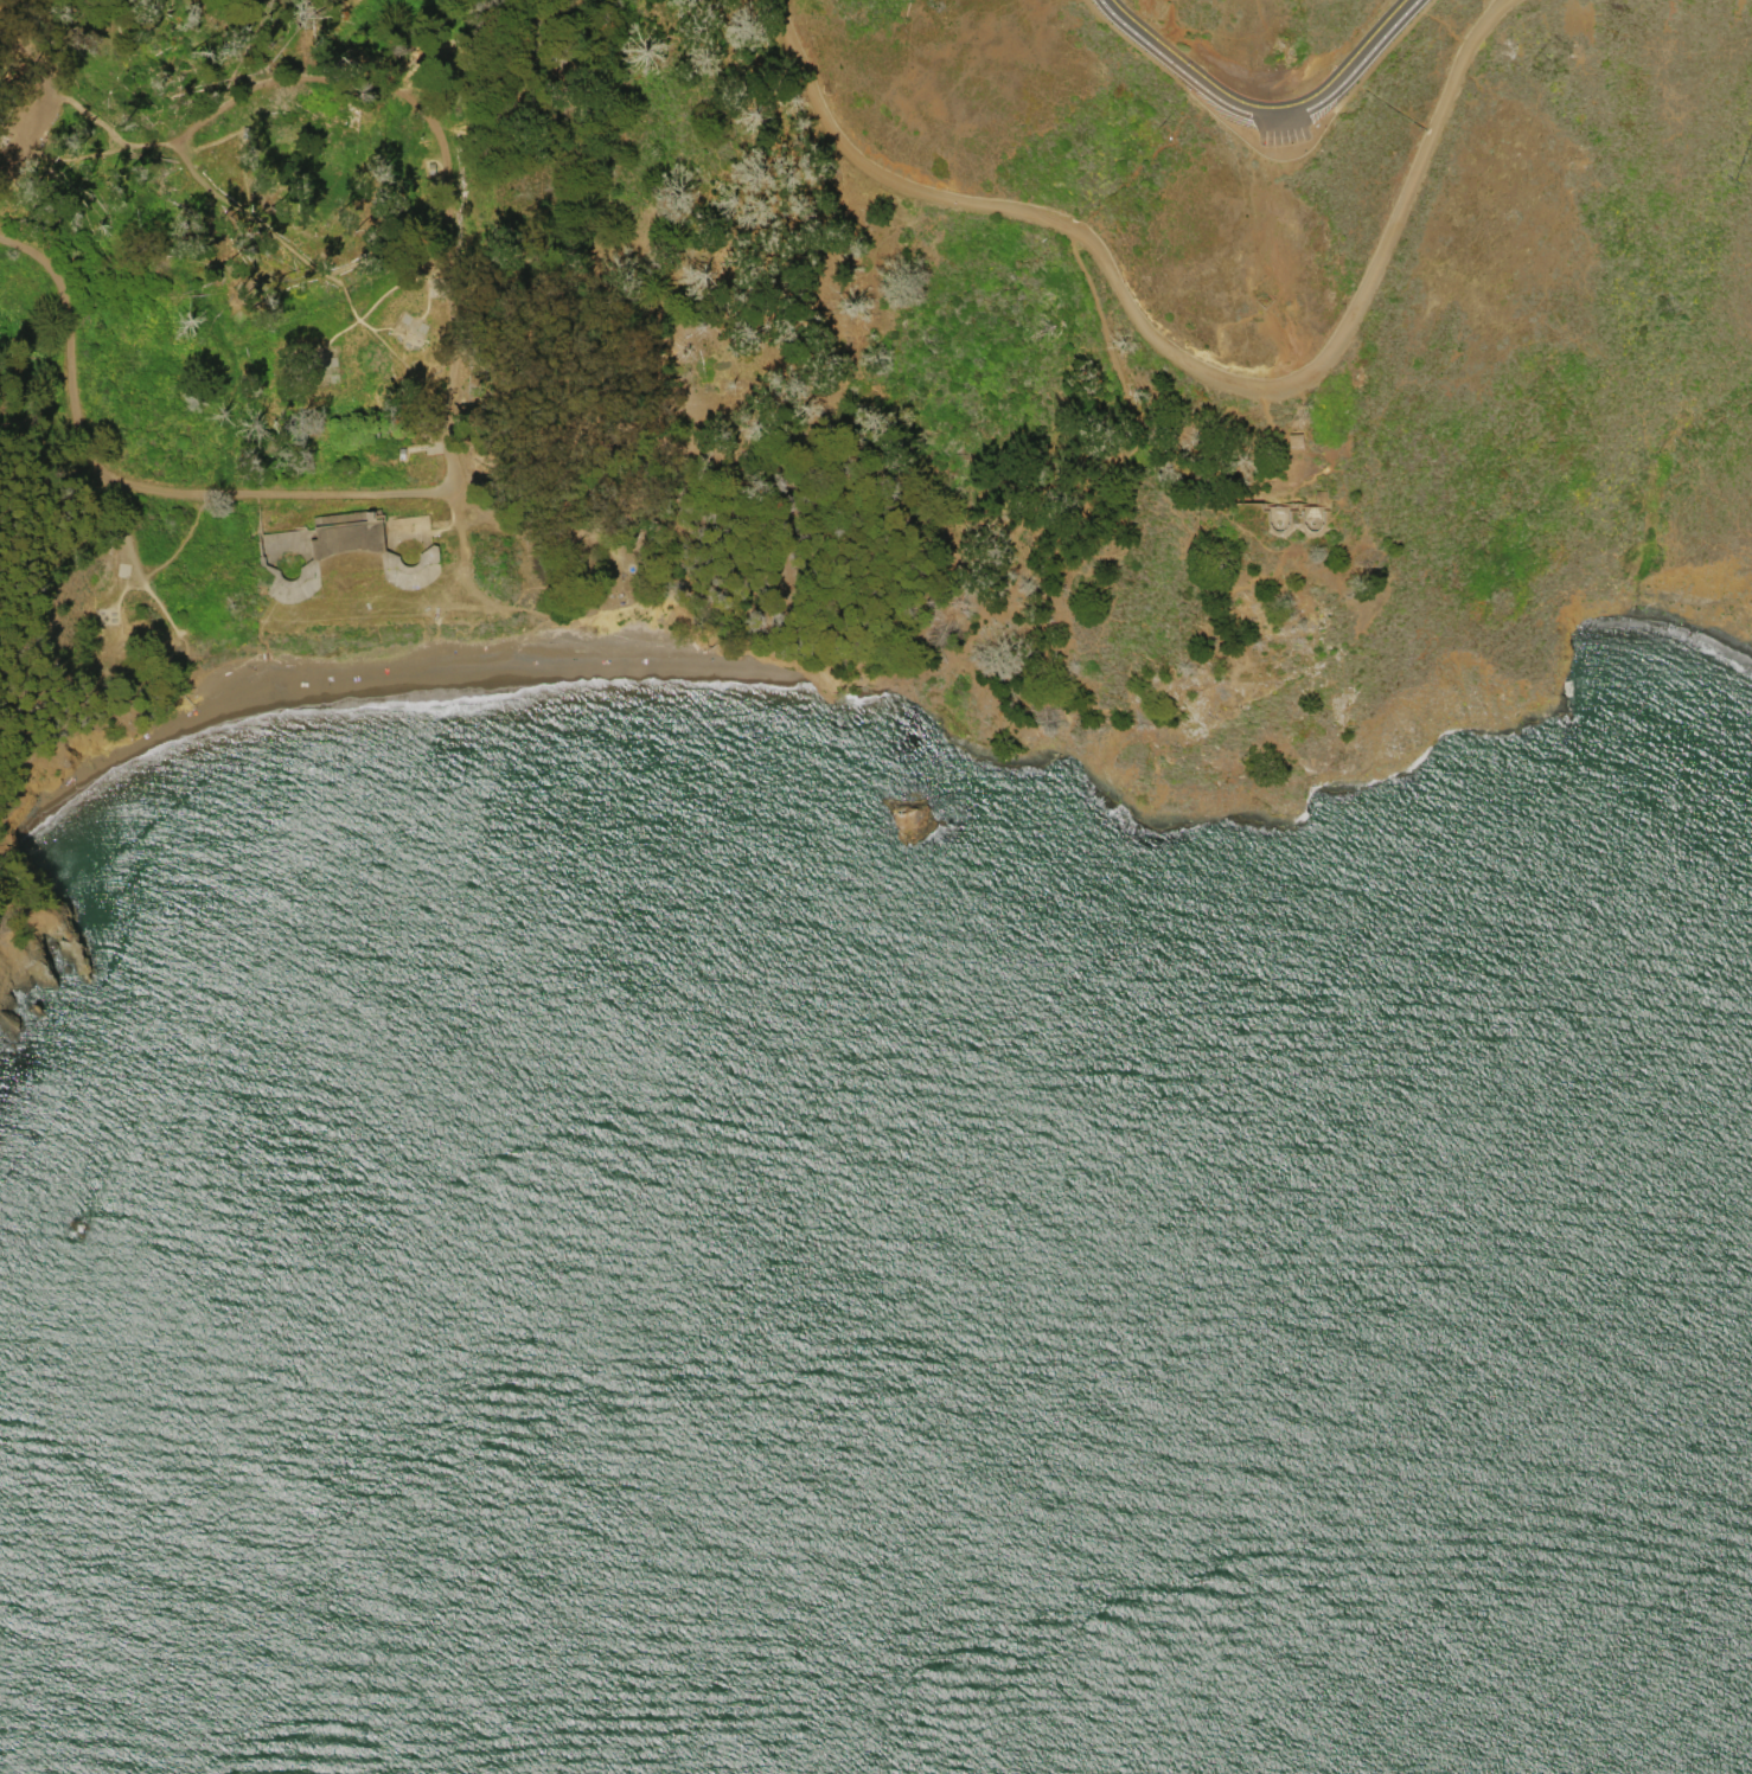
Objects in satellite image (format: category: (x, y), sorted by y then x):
parking lot: (1214, 107)
road: (1267, 116)
road: (36, 124)
road: (427, 127)
parking lot: (24, 134)
road: (205, 142)
road: (250, 220)
road: (385, 248)
road: (286, 282)
road: (344, 293)
building: (1262, 297)
road: (353, 313)
road: (360, 316)
road: (333, 337)
road: (1175, 354)
road: (1156, 434)
road: (1280, 440)
road: (139, 483)
road: (1292, 495)
road: (450, 518)
building: (293, 558)
road: (134, 568)
road: (119, 593)
road: (175, 634)
road: (307, 665)

